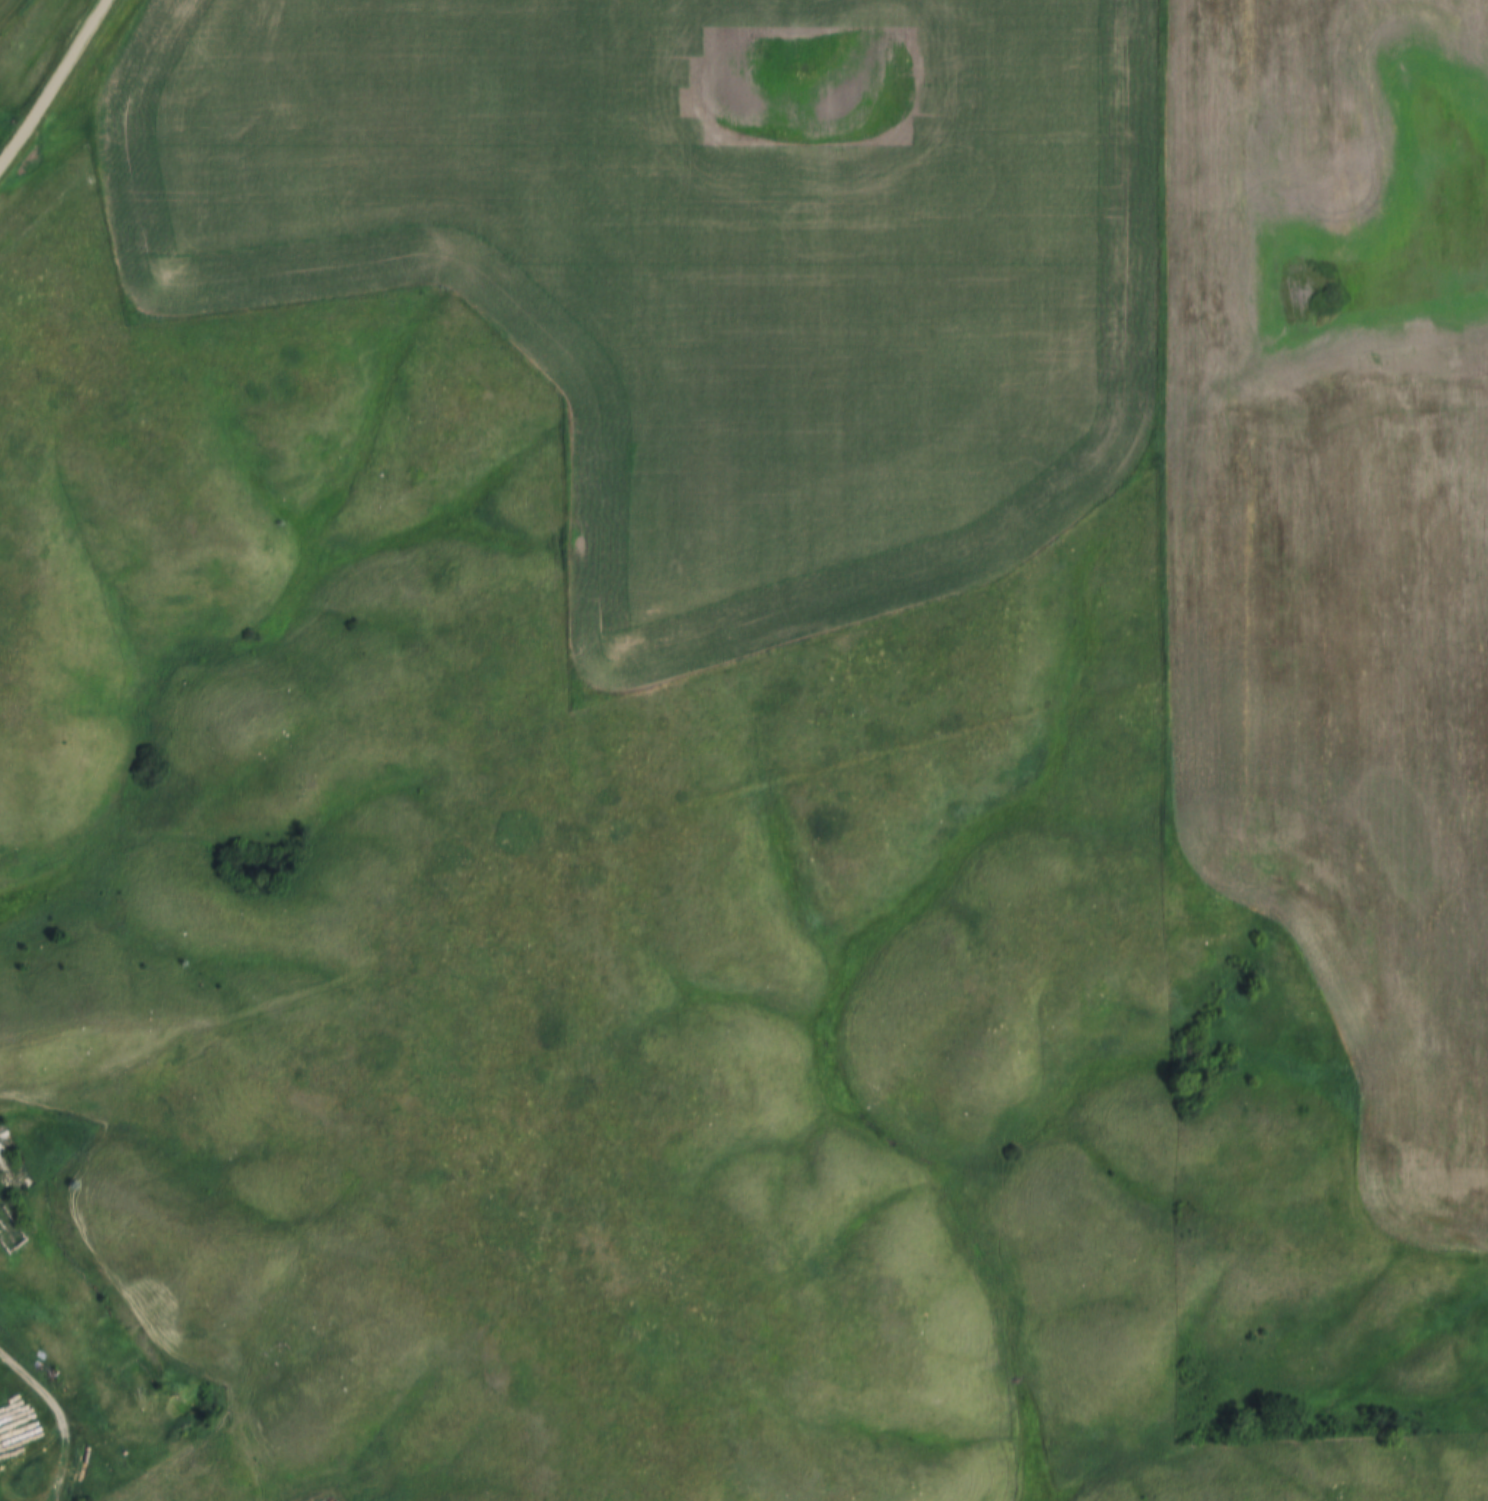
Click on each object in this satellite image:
road: (55, 81)
building: (9, 1139)
building: (28, 1184)
building: (8, 1232)
road: (61, 1414)

